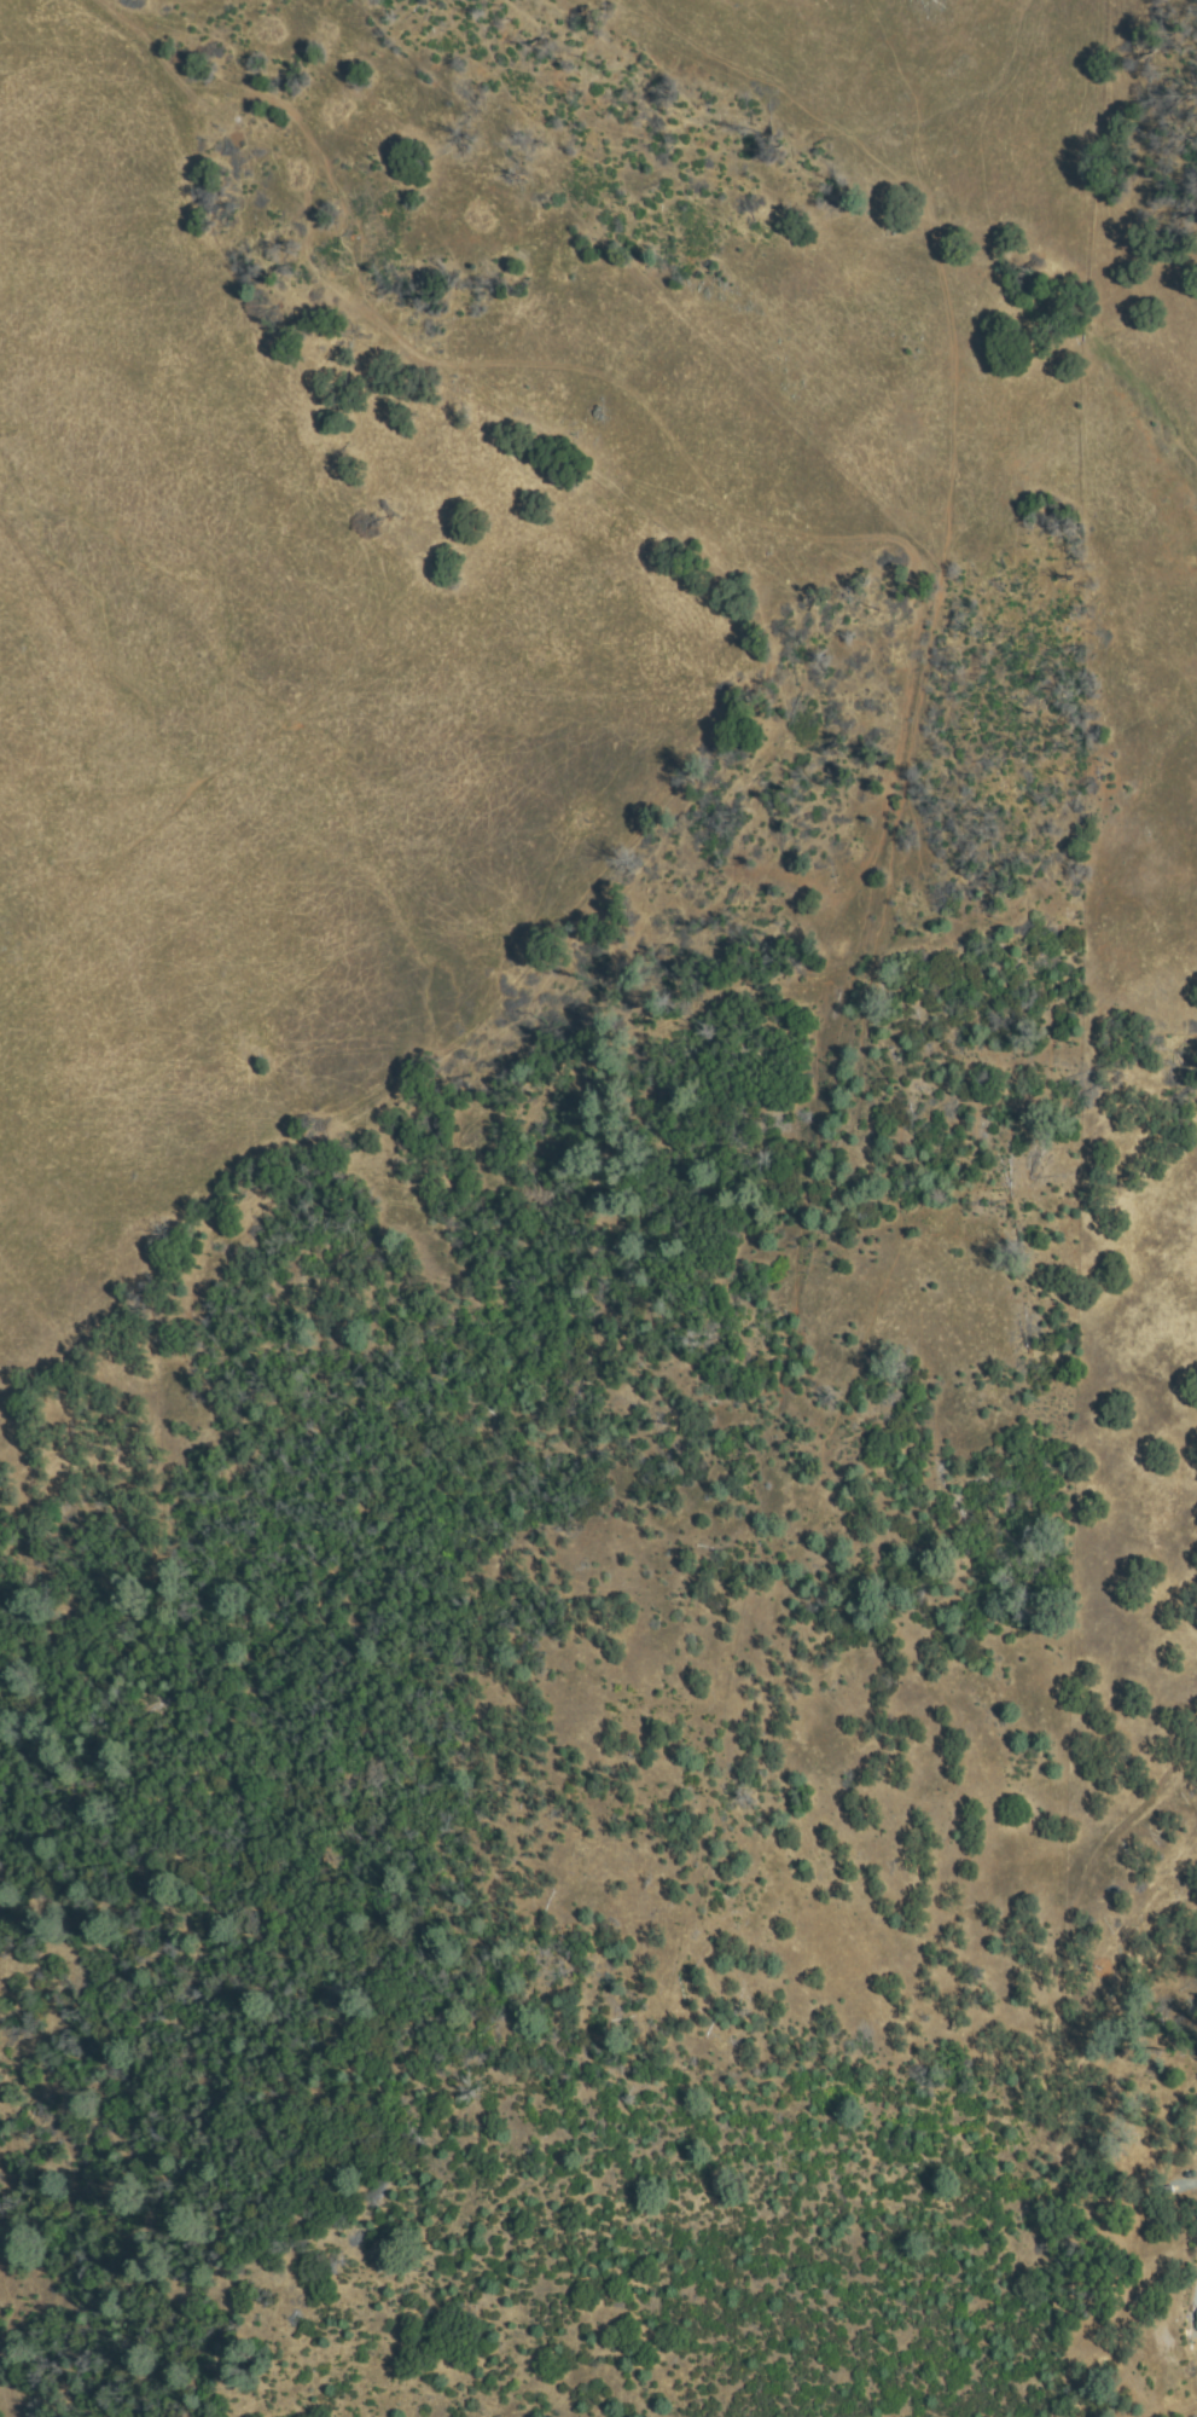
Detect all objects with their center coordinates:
building: (1193, 2320)
building: (1196, 2346)

